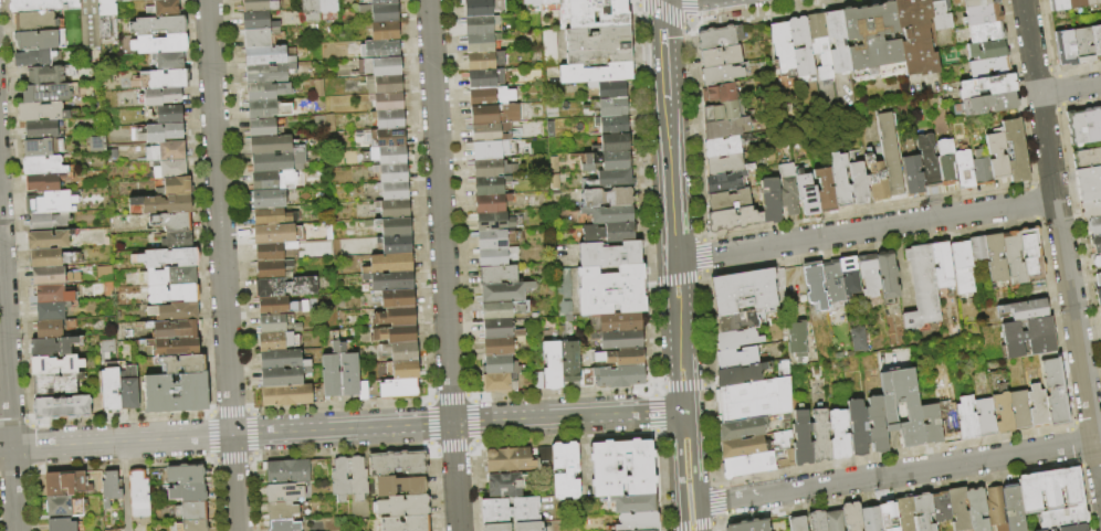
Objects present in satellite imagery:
building: (547, 1)
building: (989, 1)
building: (384, 2)
building: (1092, 2)
building: (969, 3)
building: (1077, 3)
building: (43, 6)
building: (532, 6)
building: (1059, 6)
building: (258, 7)
building: (165, 8)
building: (483, 8)
building: (328, 10)
building: (311, 11)
road: (691, 11)
building: (381, 12)
building: (591, 14)
building: (941, 14)
building: (981, 14)
building: (106, 17)
road: (663, 17)
building: (34, 21)
building: (258, 22)
building: (91, 24)
building: (481, 25)
road: (690, 25)
building: (159, 26)
building: (385, 30)
building: (986, 33)
building: (916, 36)
building: (259, 38)
building: (720, 38)
building: (34, 40)
building: (1097, 41)
building: (838, 42)
building: (482, 43)
building: (873, 43)
building: (160, 44)
road: (662, 44)
building: (598, 45)
building: (820, 45)
building: (782, 46)
building: (1083, 46)
building: (380, 49)
building: (1066, 49)
building: (801, 50)
building: (987, 51)
building: (721, 57)
building: (34, 59)
building: (485, 61)
building: (170, 62)
building: (269, 64)
building: (381, 66)
building: (990, 67)
building: (596, 73)
building: (45, 75)
building: (721, 75)
building: (169, 79)
building: (486, 79)
building: (385, 85)
building: (987, 86)
building: (610, 89)
road: (1069, 89)
building: (268, 91)
building: (48, 94)
building: (720, 94)
building: (162, 96)
building: (491, 97)
building: (388, 102)
building: (989, 104)
building: (610, 107)
building: (268, 108)
building: (40, 111)
building: (724, 111)
building: (1100, 113)
building: (495, 115)
building: (170, 116)
building: (389, 119)
building: (612, 125)
building: (1092, 126)
building: (1076, 128)
building: (263, 129)
building: (724, 129)
building: (41, 130)
building: (161, 132)
building: (492, 134)
road: (698, 134)
building: (390, 137)
building: (616, 144)
building: (274, 146)
building: (725, 147)
building: (38, 148)
building: (493, 150)
building: (167, 151)
building: (1016, 151)
building: (890, 153)
building: (390, 156)
building: (997, 156)
building: (1087, 159)
building: (929, 160)
building: (607, 161)
building: (275, 163)
building: (946, 163)
building: (43, 166)
building: (726, 166)
building: (965, 168)
building: (493, 169)
building: (982, 169)
building: (171, 170)
building: (392, 173)
building: (913, 176)
building: (612, 180)
building: (877, 180)
building: (841, 181)
building: (42, 182)
building: (268, 182)
building: (725, 182)
building: (859, 183)
building: (1088, 184)
building: (491, 185)
building: (178, 187)
building: (789, 190)
building: (825, 190)
building: (395, 191)
building: (808, 195)
building: (607, 198)
building: (269, 200)
building: (728, 201)
building: (772, 201)
building: (50, 203)
building: (492, 204)
building: (164, 205)
building: (395, 209)
building: (1090, 210)
building: (608, 215)
building: (273, 217)
building: (733, 220)
building: (171, 222)
building: (40, 223)
building: (495, 223)
building: (396, 226)
building: (1094, 226)
road: (864, 230)
building: (608, 233)
building: (276, 234)
building: (48, 241)
building: (179, 241)
building: (496, 241)
building: (1095, 244)
building: (396, 245)
road: (1061, 246)
building: (978, 248)
road: (673, 249)
building: (273, 252)
building: (609, 255)
building: (1032, 255)
road: (706, 256)
building: (497, 257)
building: (1015, 257)
building: (45, 258)
building: (170, 258)
building: (996, 258)
building: (1097, 262)
building: (390, 264)
building: (942, 264)
road: (222, 265)
road: (442, 265)
building: (963, 268)
building: (274, 270)
building: (497, 275)
building: (888, 275)
building: (48, 276)
building: (171, 276)
road: (704, 276)
building: (849, 276)
building: (870, 276)
building: (1099, 279)
building: (390, 282)
building: (833, 282)
building: (815, 285)
building: (286, 287)
building: (922, 288)
building: (611, 290)
building: (748, 290)
building: (505, 293)
building: (174, 294)
building: (1099, 296)
building: (397, 299)
building: (49, 304)
building: (273, 307)
building: (1100, 309)
building: (502, 310)
building: (1026, 310)
building: (175, 312)
building: (396, 318)
building: (737, 321)
building: (616, 322)
building: (273, 325)
building: (1100, 329)
building: (49, 330)
building: (174, 330)
building: (500, 330)
road: (706, 333)
building: (397, 334)
building: (737, 339)
building: (796, 339)
building: (856, 339)
building: (1029, 339)
building: (619, 340)
building: (277, 341)
building: (52, 347)
building: (499, 347)
building: (177, 348)
building: (401, 352)
building: (107, 358)
building: (622, 358)
building: (737, 358)
building: (281, 360)
building: (570, 363)
building: (183, 364)
building: (55, 365)
building: (501, 365)
building: (553, 367)
building: (405, 370)
building: (348, 372)
building: (332, 373)
building: (740, 375)
building: (619, 376)
building: (282, 378)
building: (586, 379)
building: (500, 383)
building: (56, 384)
road: (685, 386)
building: (107, 387)
building: (128, 389)
building: (400, 390)
road: (8, 392)
building: (1055, 392)
building: (177, 393)
building: (287, 396)
building: (754, 400)
building: (1000, 401)
building: (62, 407)
building: (1038, 407)
building: (946, 410)
building: (1020, 411)
building: (913, 413)
road: (657, 414)
building: (985, 417)
building: (967, 420)
road: (1089, 422)
building: (932, 424)
road: (1072, 425)
building: (875, 426)
building: (857, 428)
road: (342, 429)
building: (743, 429)
building: (820, 436)
building: (838, 436)
road: (713, 437)
building: (803, 439)
road: (1076, 445)
building: (745, 447)
road: (896, 456)
road: (685, 458)
building: (510, 460)
road: (1079, 461)
building: (398, 464)
road: (1092, 465)
building: (747, 466)
building: (622, 468)
building: (565, 471)
building: (289, 472)
road: (894, 474)
building: (187, 475)
building: (357, 479)
building: (340, 480)
building: (66, 484)
building: (505, 486)
road: (124, 487)
building: (400, 487)
building: (111, 489)
building: (1050, 491)
building: (190, 492)
road: (902, 492)
building: (139, 493)
building: (284, 493)
road: (1086, 497)
road: (722, 503)
building: (633, 505)
building: (65, 507)
building: (403, 507)
building: (941, 508)
building: (1014, 508)
building: (191, 509)
building: (960, 509)
building: (977, 509)
building: (996, 509)
building: (282, 511)
building: (510, 511)
building: (923, 512)
building: (906, 514)
building: (852, 517)
road: (689, 518)
building: (871, 519)
building: (1063, 519)
building: (817, 521)
building: (835, 521)
building: (639, 522)
road: (719, 522)
building: (62, 524)
building: (193, 524)
building: (406, 524)
building: (798, 524)
building: (284, 525)
building: (749, 525)
building: (527, 527)
road: (722, 527)
building: (496, 528)
road: (691, 528)
building: (1074, 528)
building: (1051, 530)

